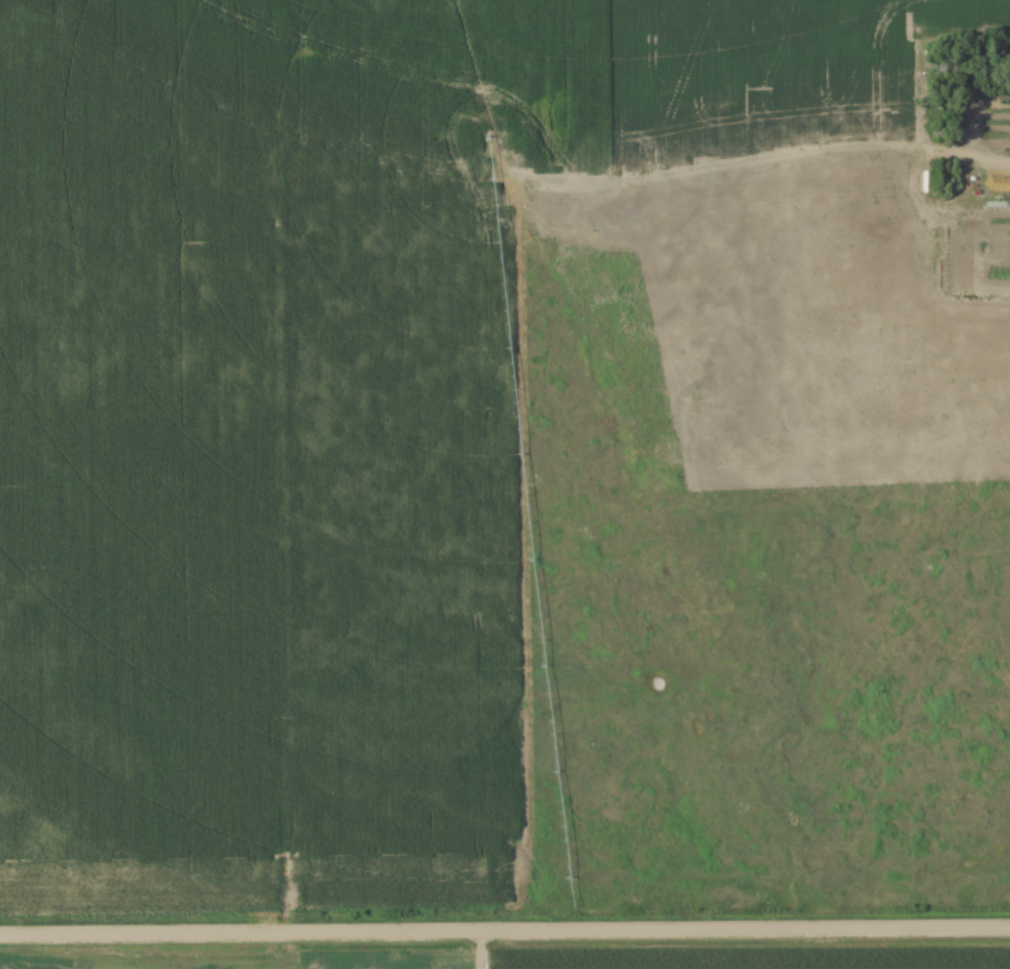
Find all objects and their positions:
road: (505, 934)

